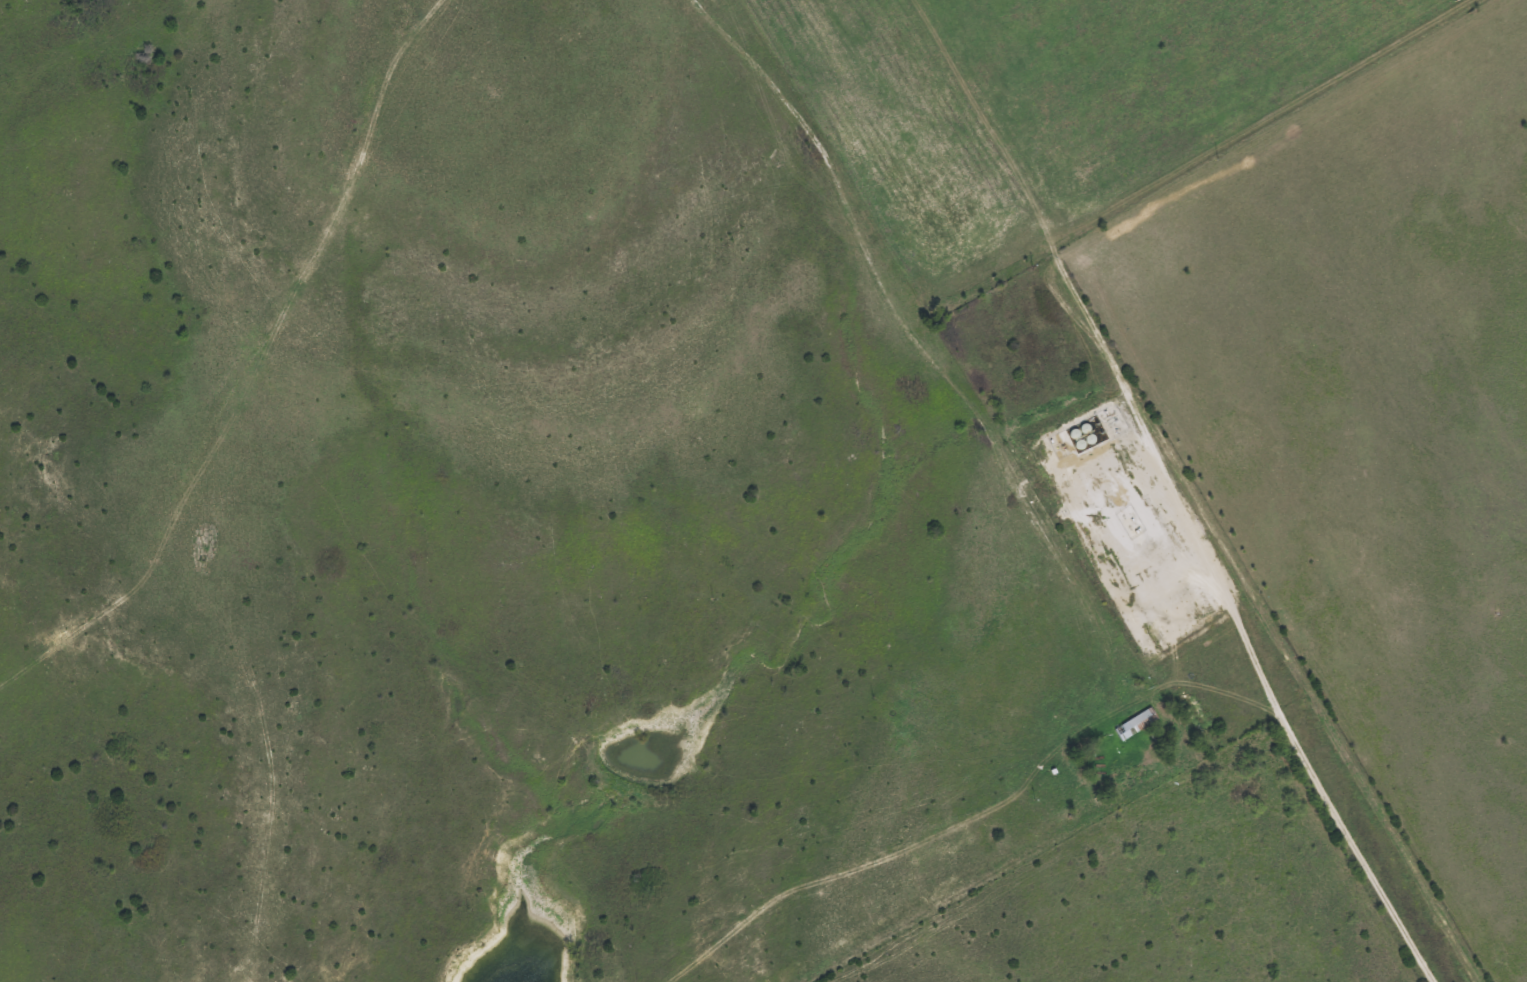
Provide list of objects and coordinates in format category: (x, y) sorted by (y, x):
road: (1206, 688)
building: (1134, 724)
road: (1325, 801)

